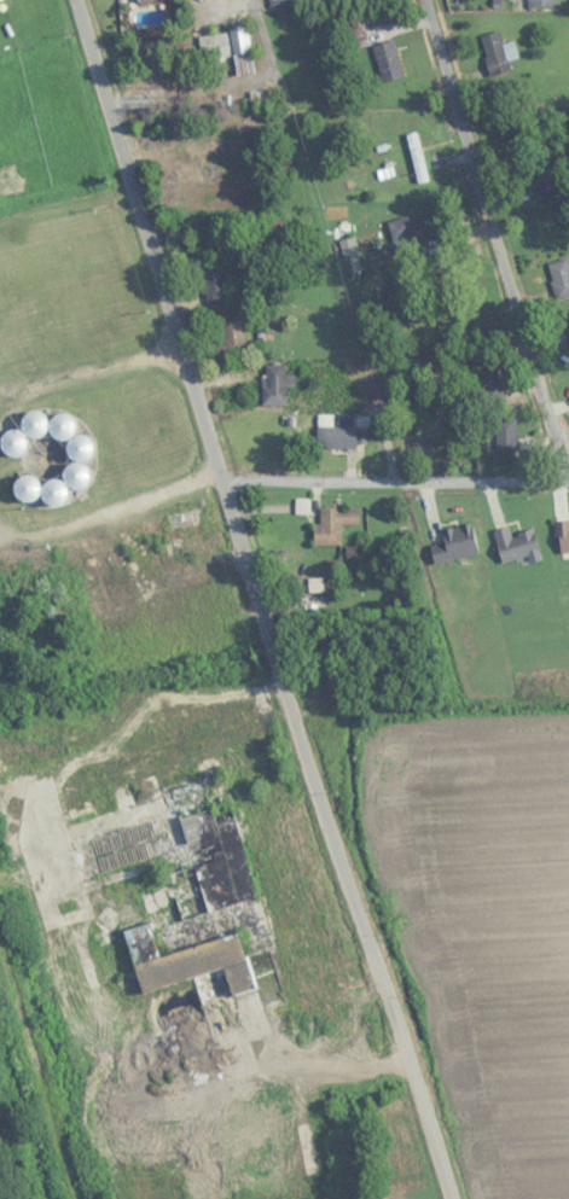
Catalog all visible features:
building: (280, 2)
building: (540, 4)
building: (223, 45)
building: (498, 53)
building: (388, 60)
building: (416, 157)
building: (544, 177)
building: (403, 228)
road: (499, 231)
building: (348, 246)
building: (559, 277)
building: (213, 279)
building: (565, 324)
building: (228, 337)
road: (91, 376)
building: (279, 383)
building: (489, 385)
building: (335, 437)
building: (506, 437)
road: (393, 487)
road: (110, 516)
building: (333, 524)
building: (563, 535)
building: (453, 543)
building: (517, 545)
road: (255, 603)
building: (199, 894)
building: (153, 898)
building: (285, 919)

